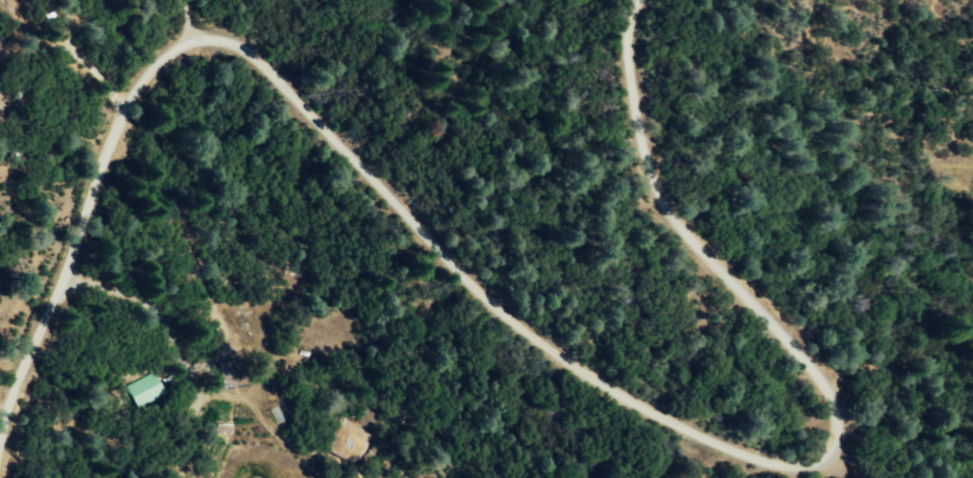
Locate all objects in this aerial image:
road: (319, 127)
road: (704, 257)
building: (230, 372)
building: (142, 390)

